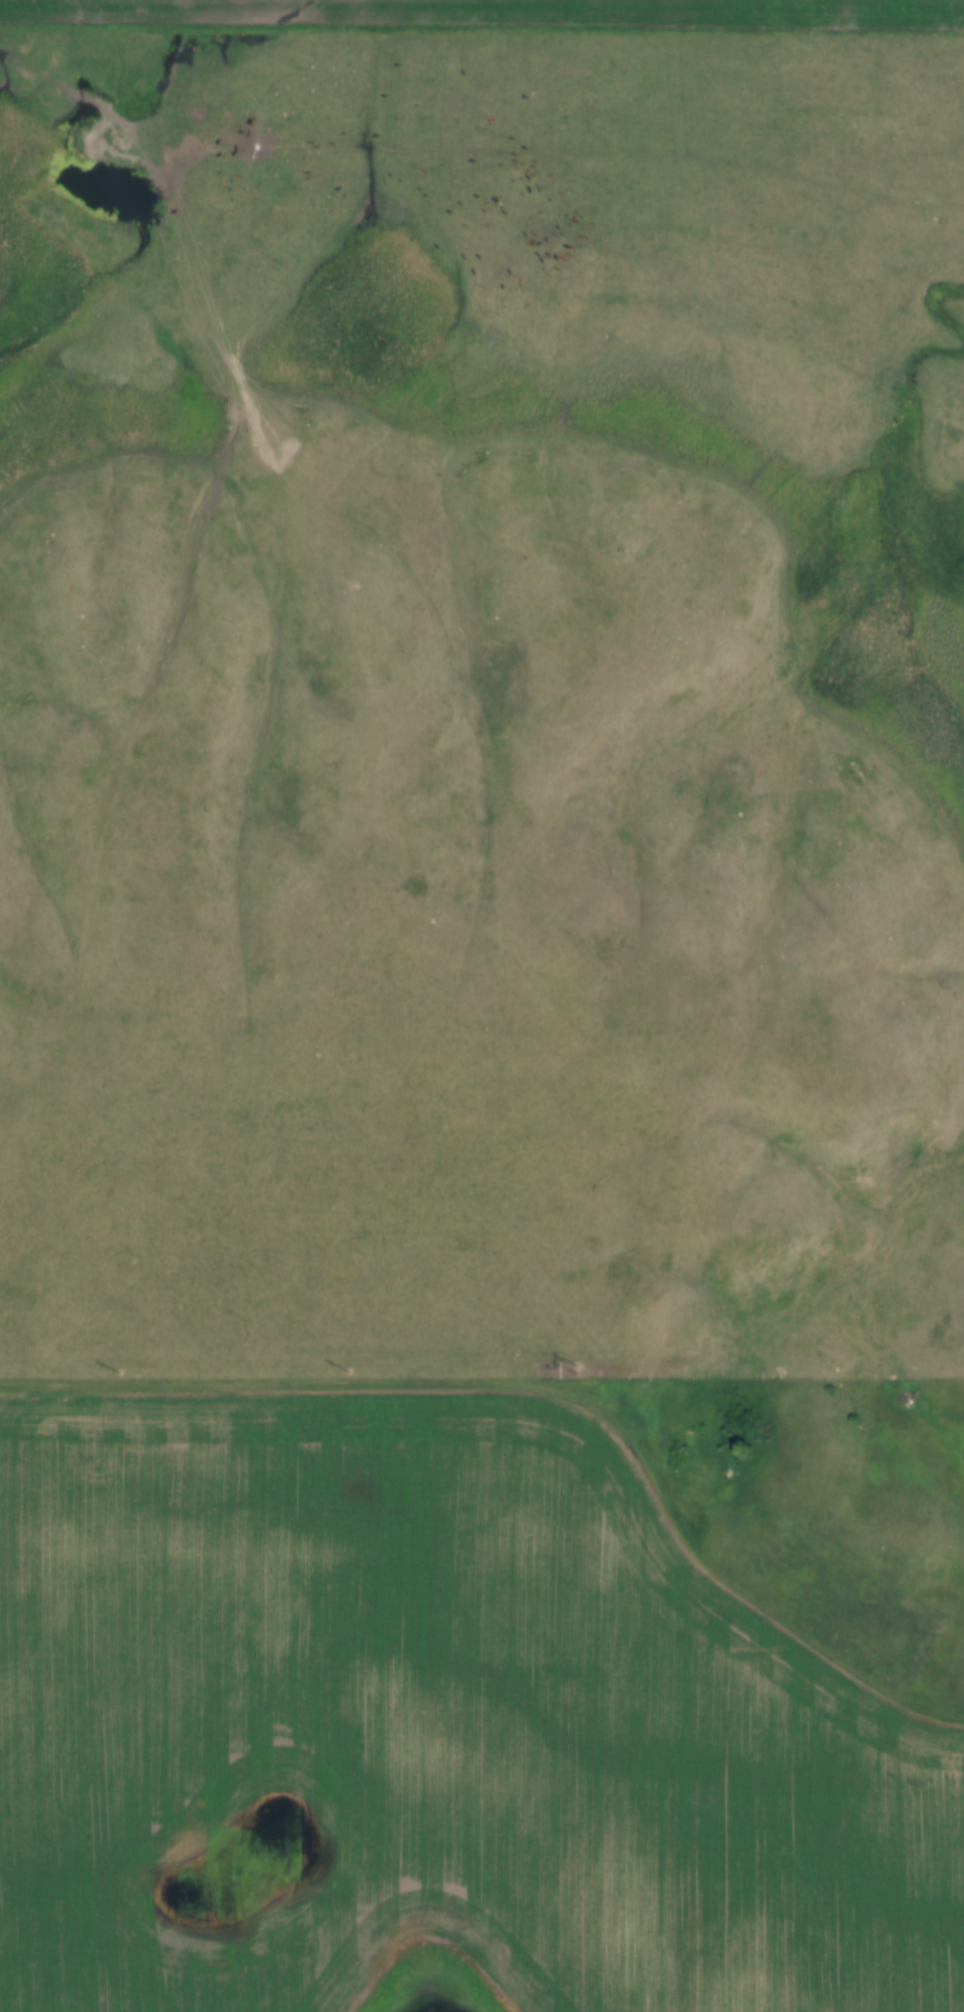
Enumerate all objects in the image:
road: (546, 1403)

